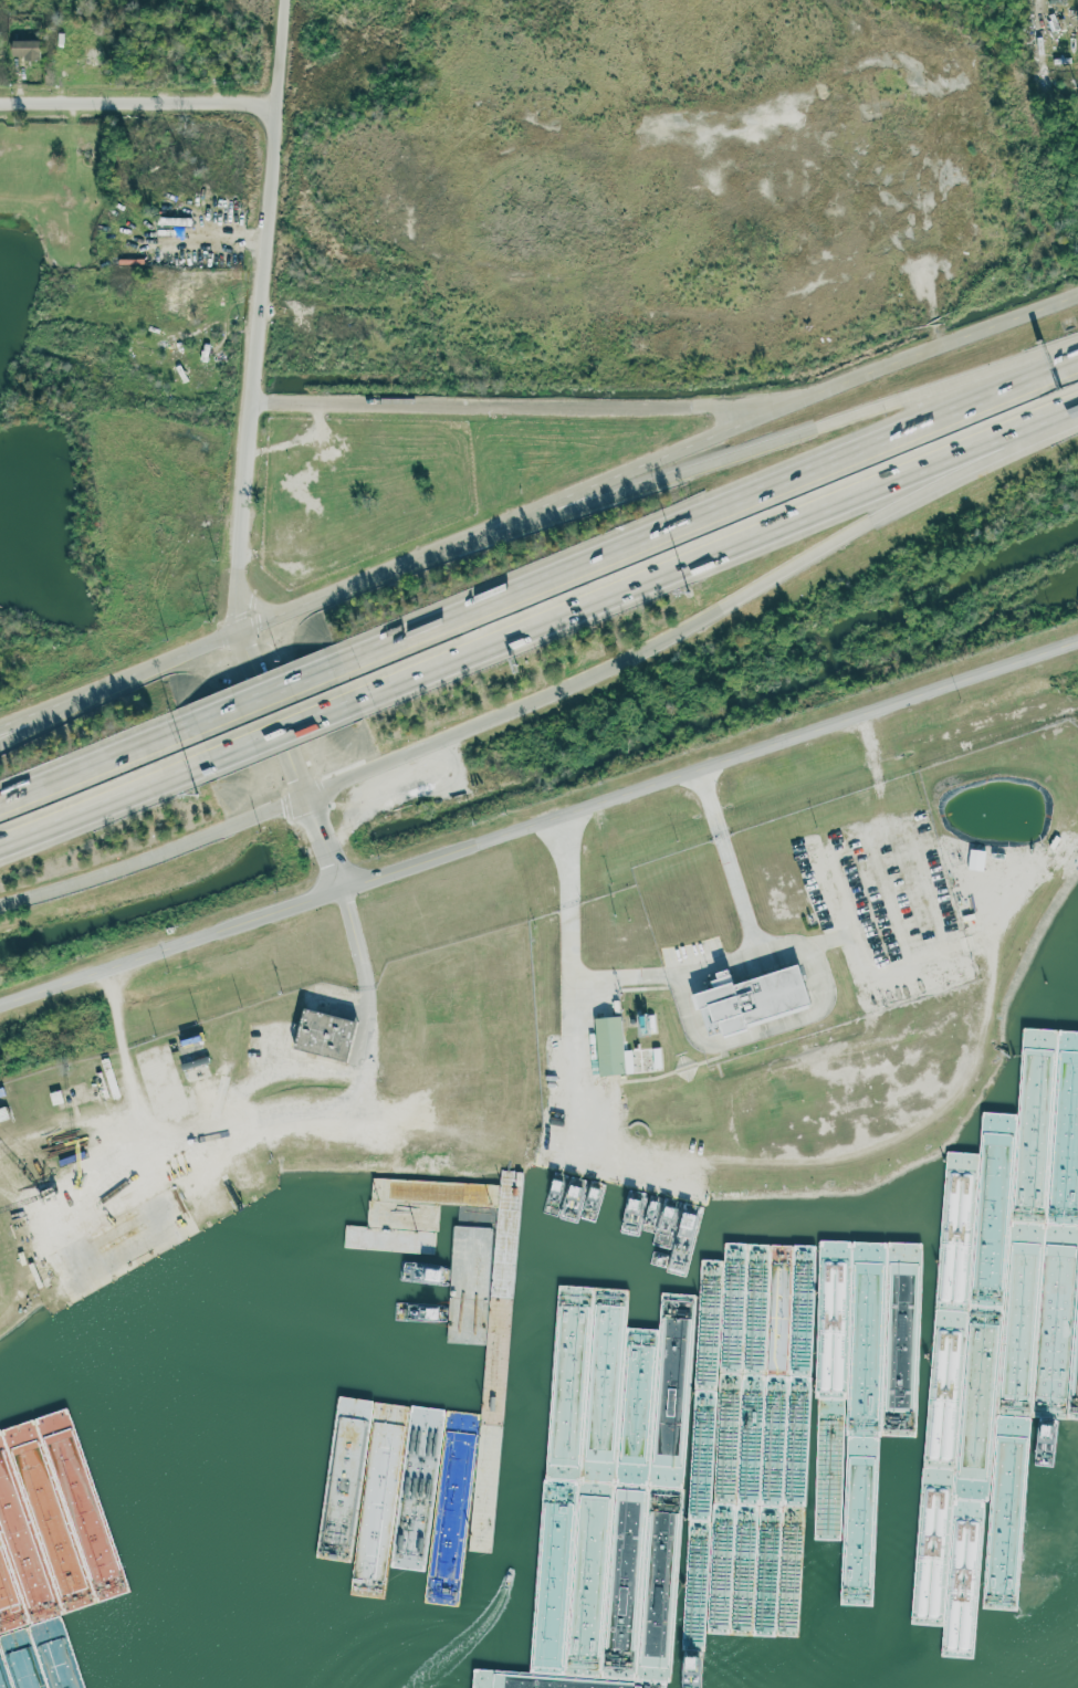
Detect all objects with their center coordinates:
road: (1039, 38)
building: (23, 49)
road: (142, 99)
quarry: (710, 174)
building: (172, 298)
road: (265, 307)
road: (934, 352)
road: (524, 407)
road: (794, 434)
road: (650, 464)
road: (709, 510)
road: (716, 546)
road: (704, 619)
road: (255, 630)
road: (260, 691)
road: (281, 707)
road: (52, 714)
road: (276, 730)
road: (90, 762)
road: (714, 765)
road: (97, 801)
road: (848, 842)
road: (335, 843)
building: (975, 859)
road: (160, 860)
road: (732, 862)
road: (176, 948)
building: (747, 998)
road: (691, 1032)
building: (320, 1034)
building: (609, 1047)
building: (656, 1057)
road: (345, 1065)
road: (571, 1120)
road: (166, 1140)
road: (132, 1246)
building: (40, 1405)

